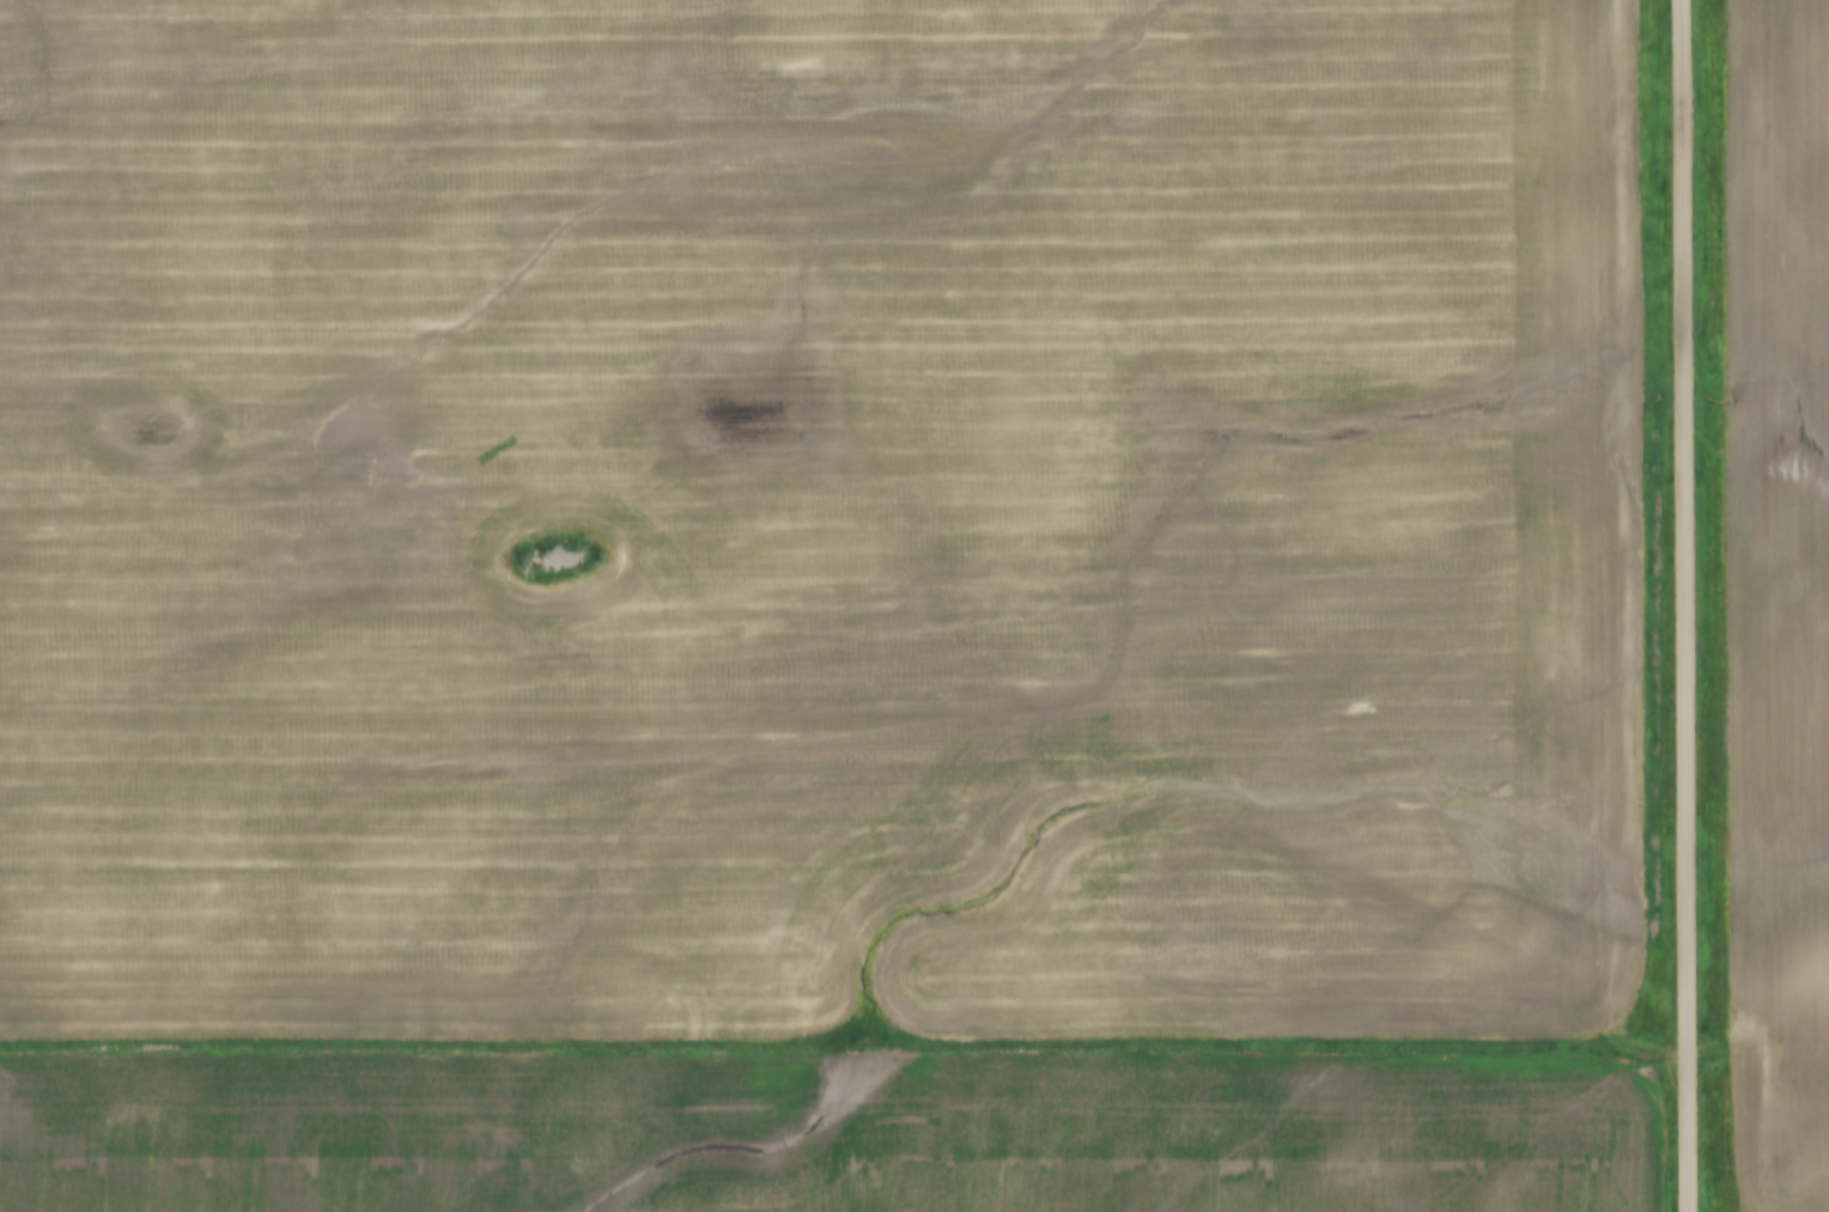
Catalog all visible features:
road: (1684, 605)

